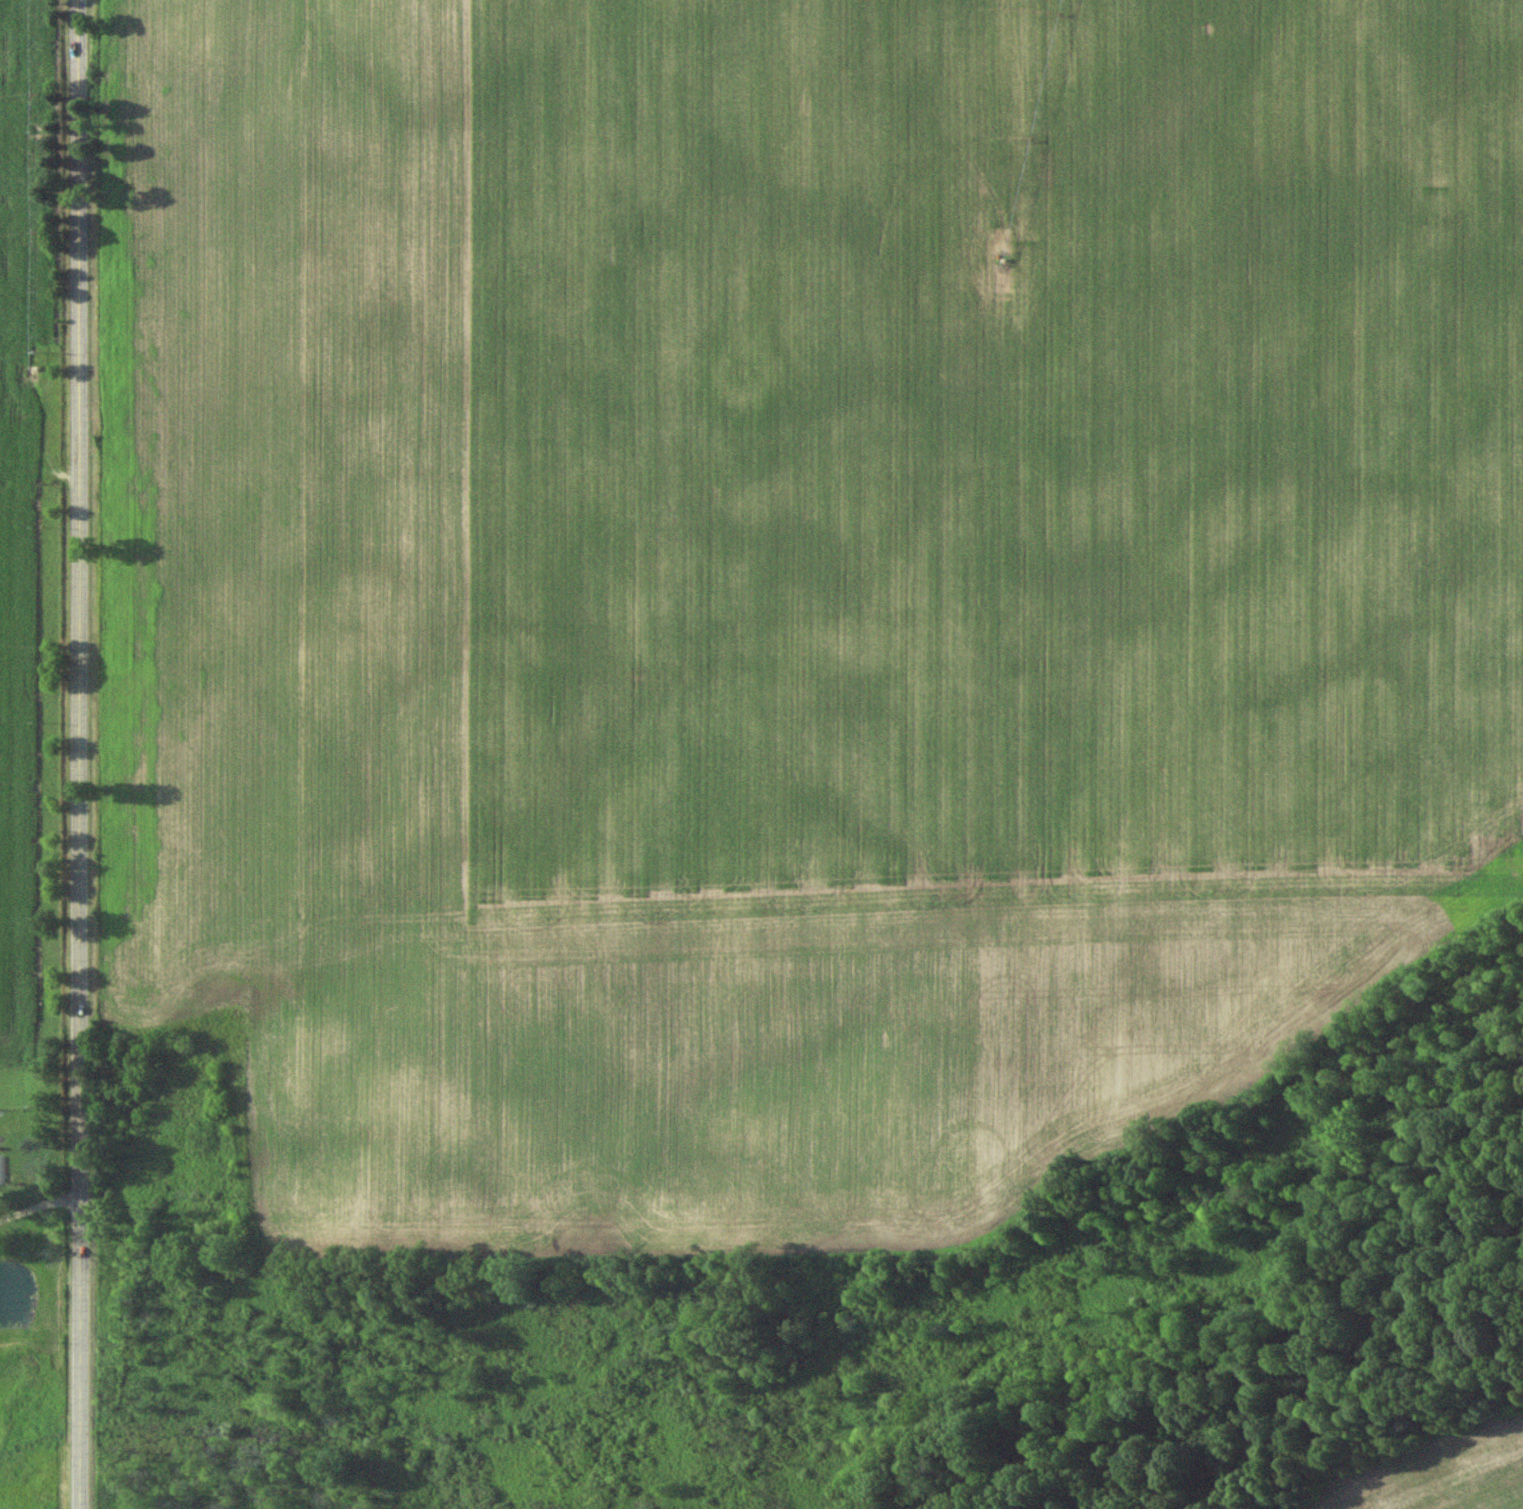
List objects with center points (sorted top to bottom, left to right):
road: (80, 754)
building: (10, 1171)
road: (39, 1205)

